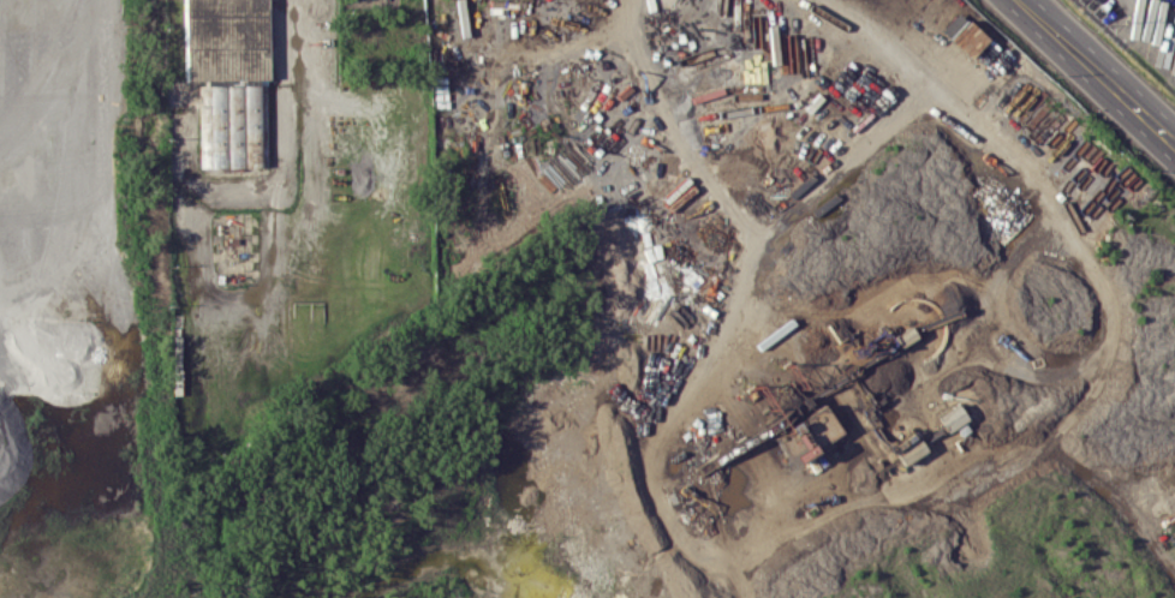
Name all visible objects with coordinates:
building: (227, 38)
building: (965, 38)
road: (1096, 72)
road: (288, 91)
building: (948, 418)

